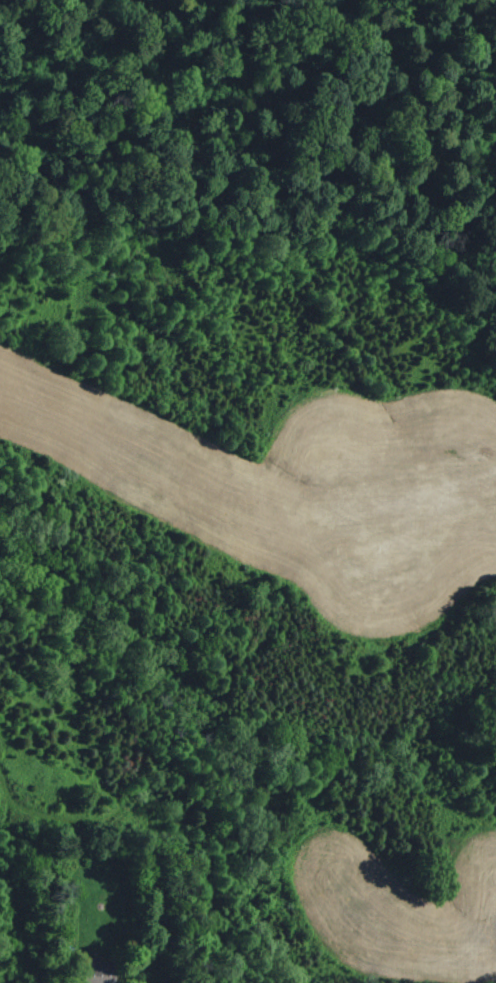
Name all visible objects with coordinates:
building: (100, 972)

